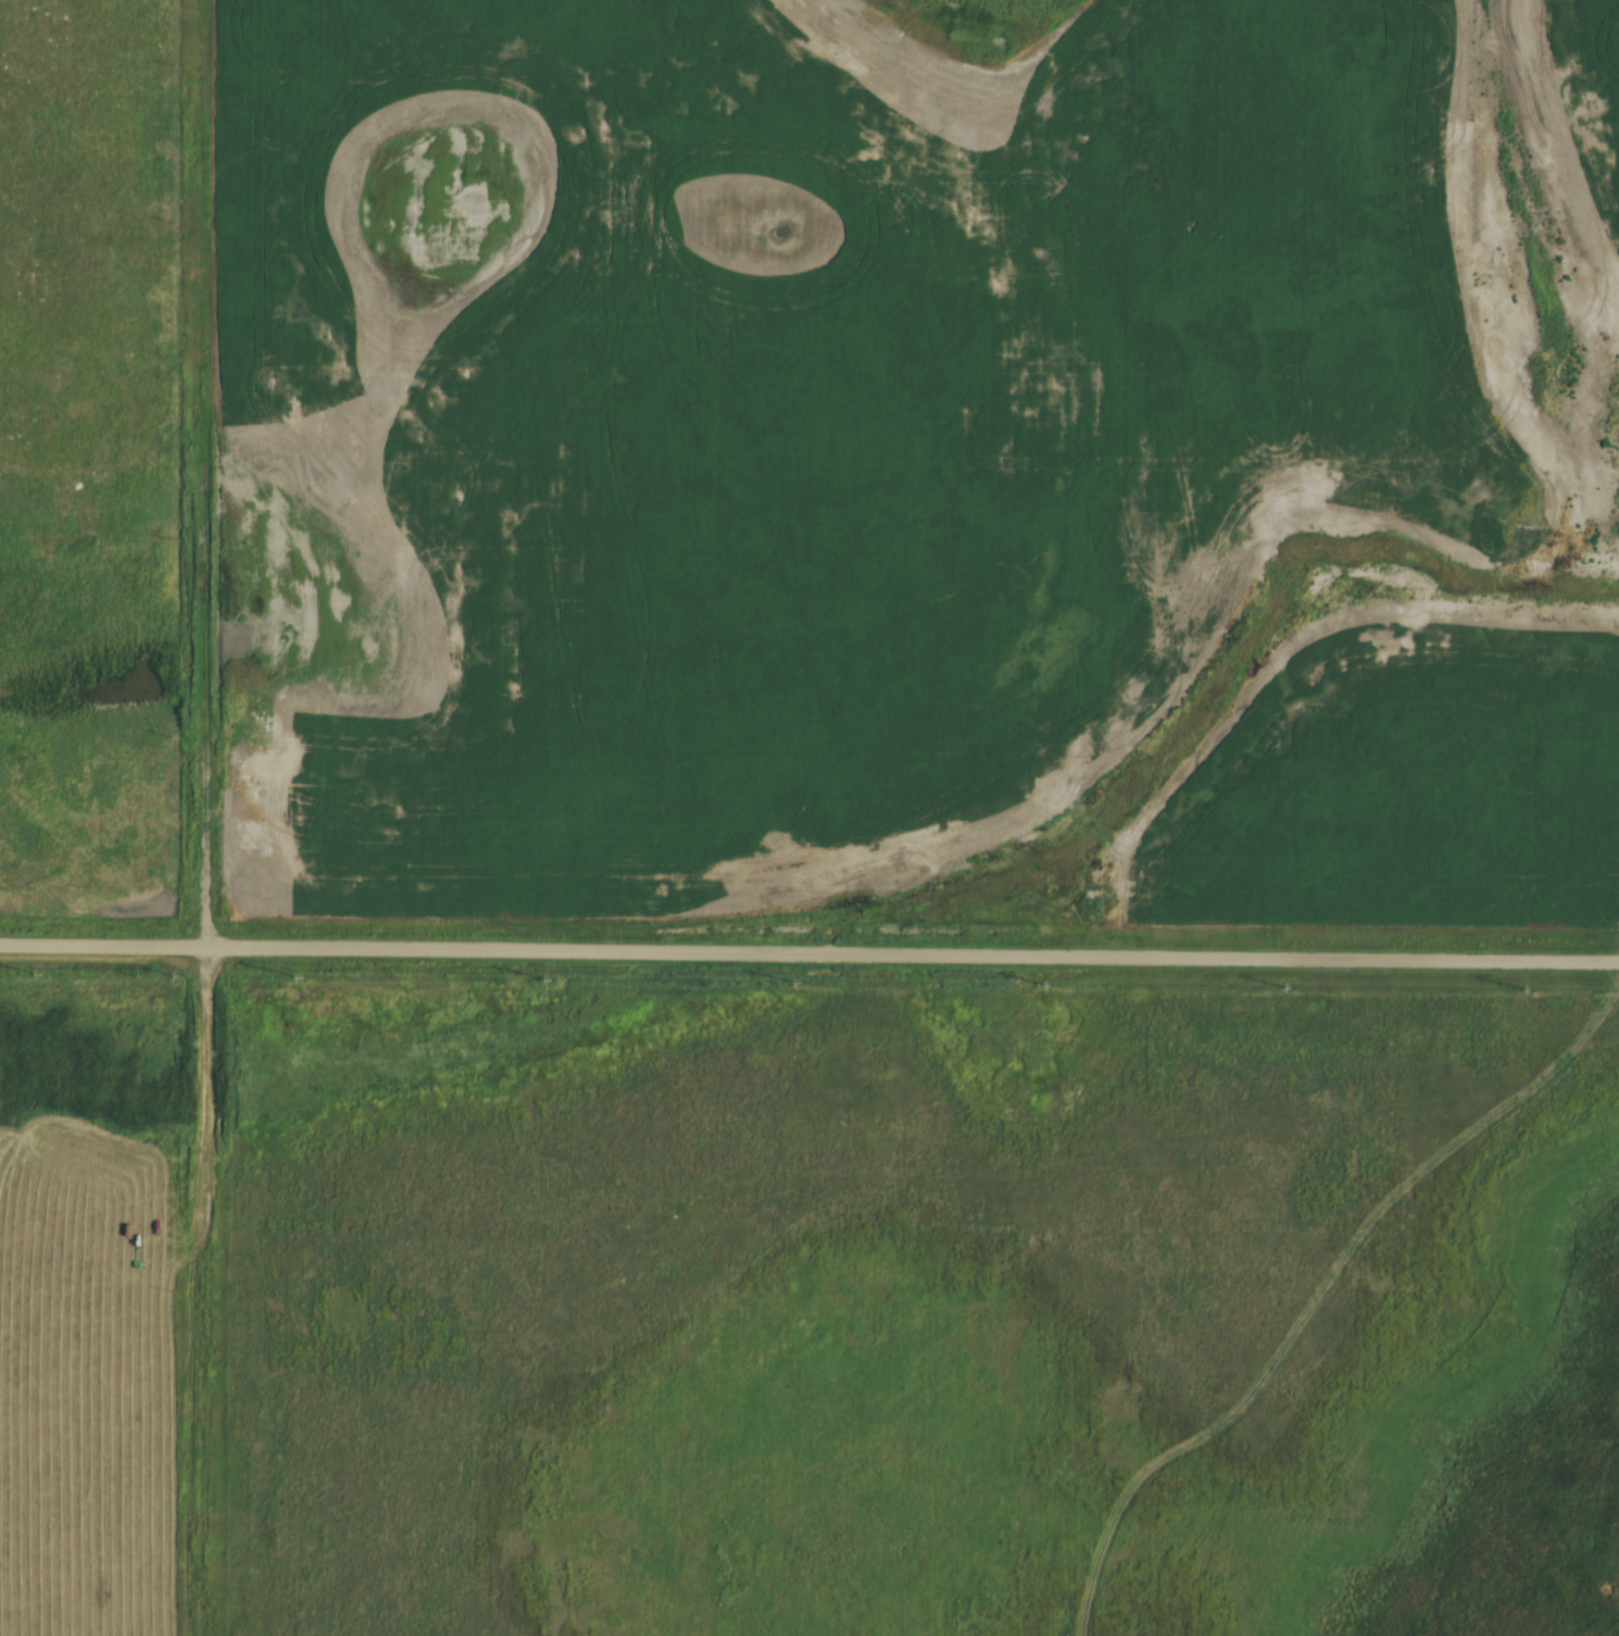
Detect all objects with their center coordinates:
road: (203, 817)
road: (810, 954)
building: (1435, 1128)

